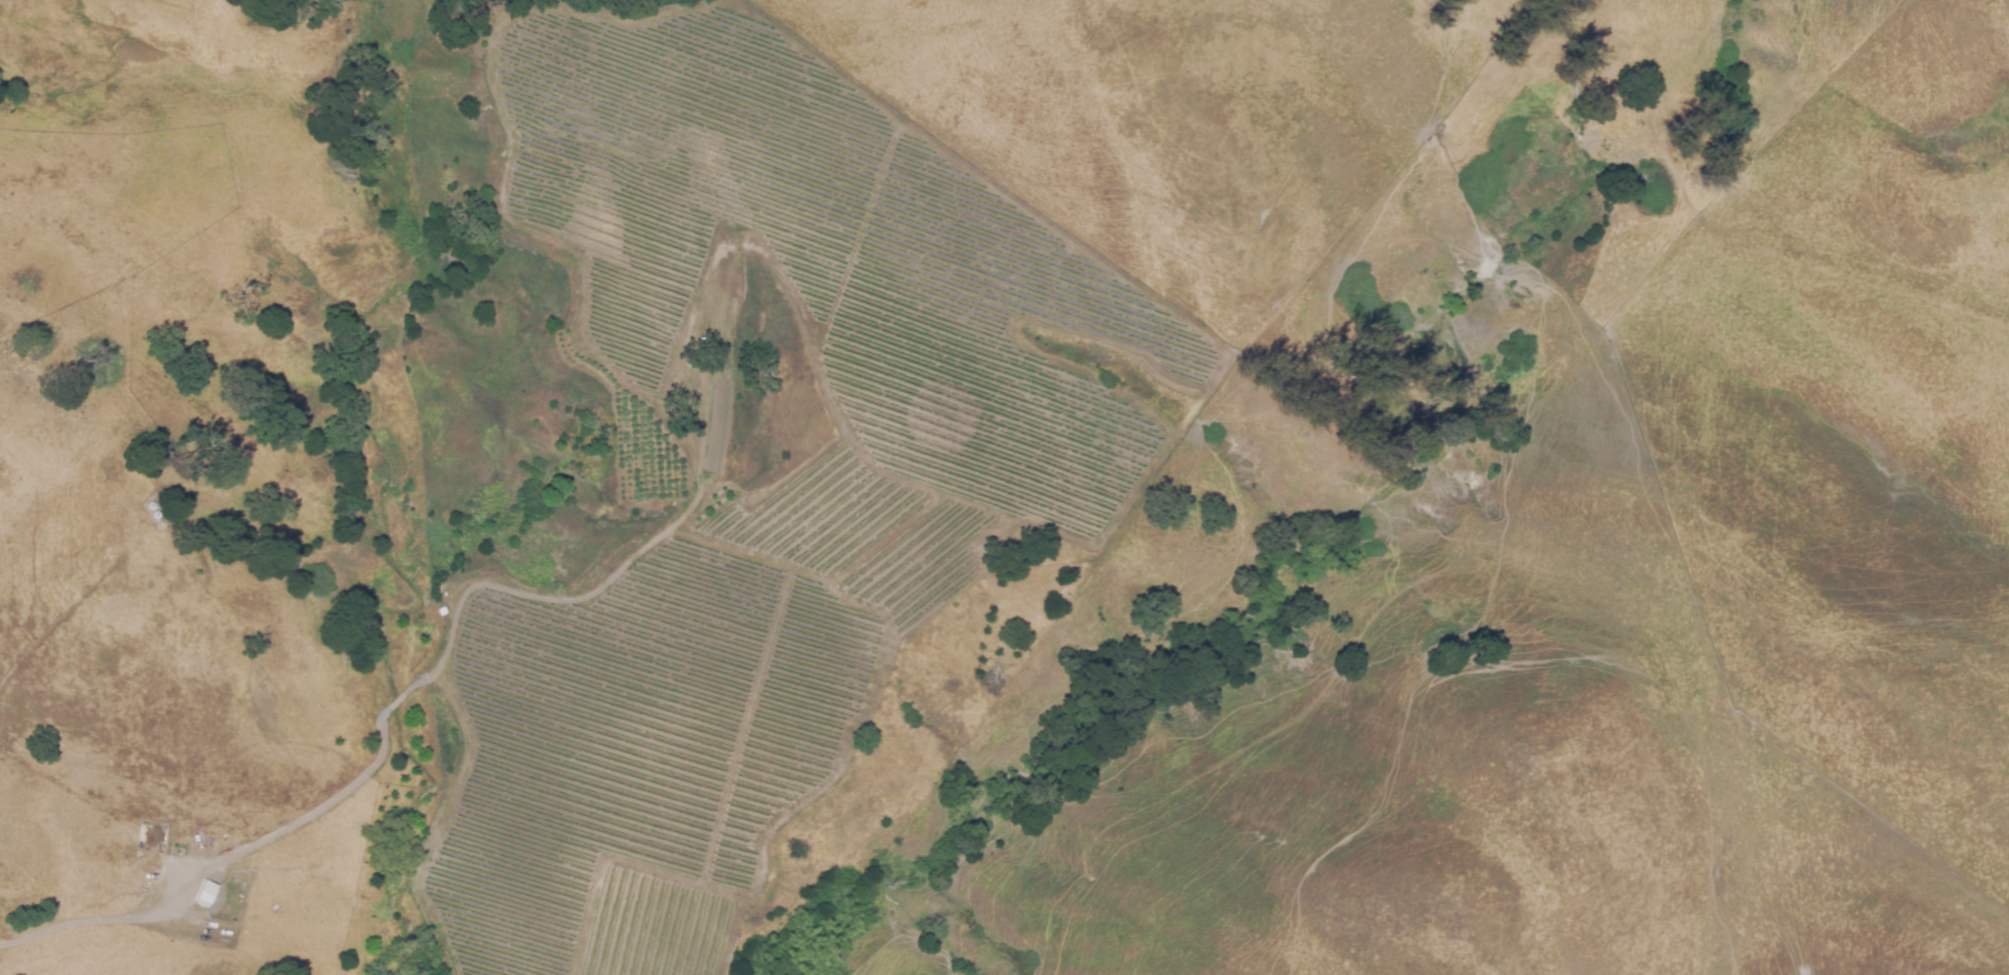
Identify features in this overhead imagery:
building: (206, 893)
road: (925, 894)
road: (102, 921)

